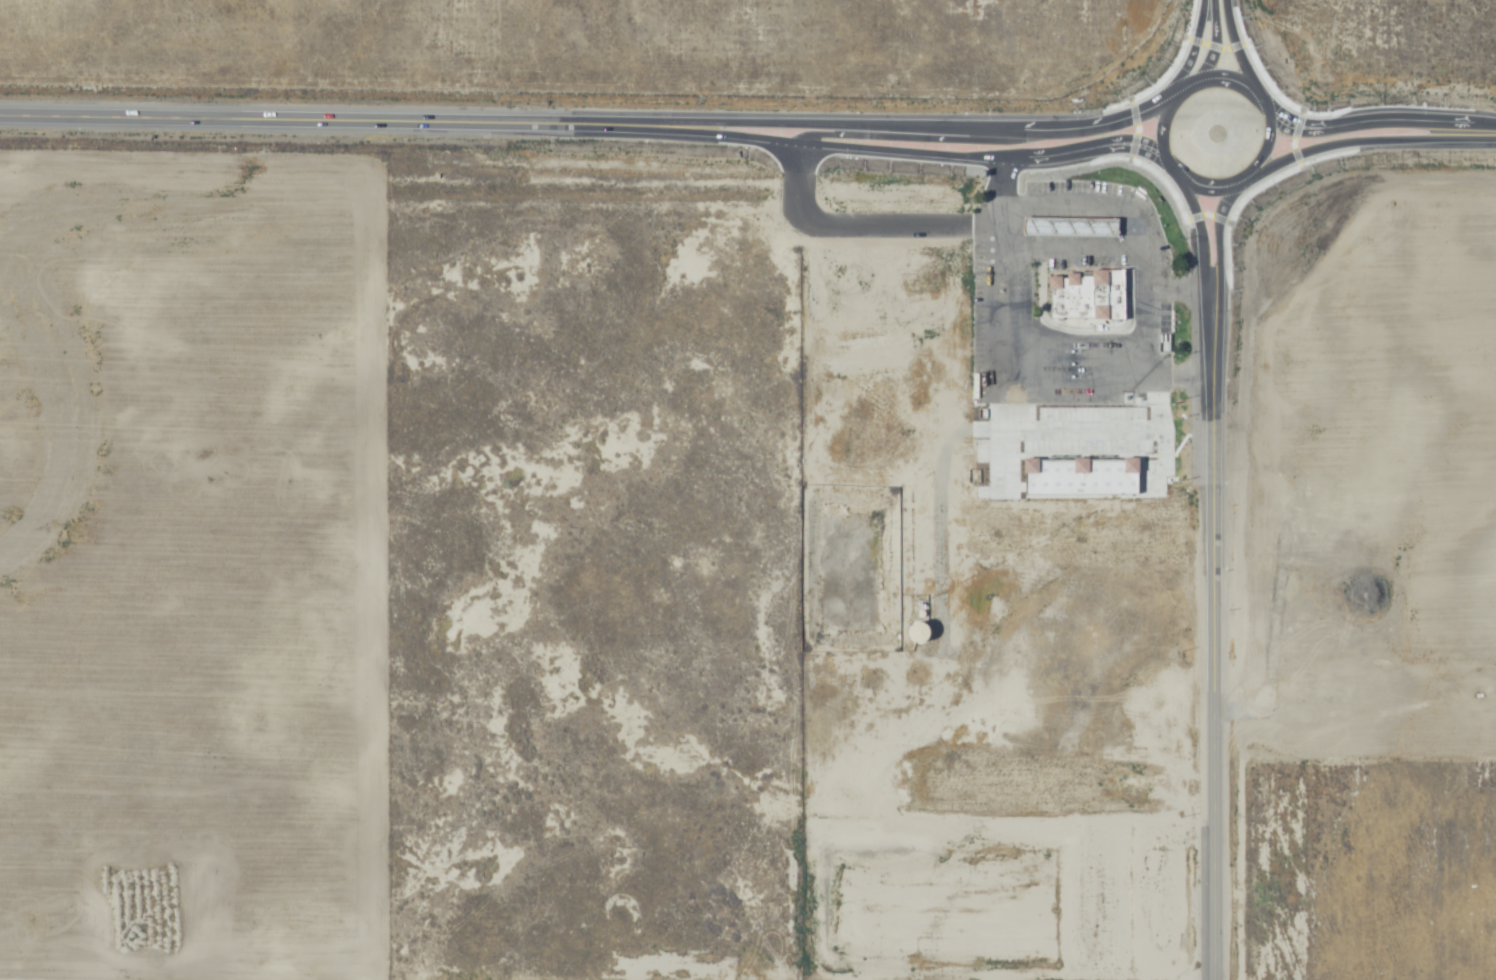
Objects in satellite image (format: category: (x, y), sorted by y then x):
road: (1225, 38)
road: (1167, 119)
road: (582, 126)
road: (1386, 126)
road: (1005, 193)
road: (1087, 205)
building: (1072, 227)
gas station: (1072, 227)
road: (1012, 270)
road: (1179, 287)
building: (1077, 296)
road: (1211, 583)

